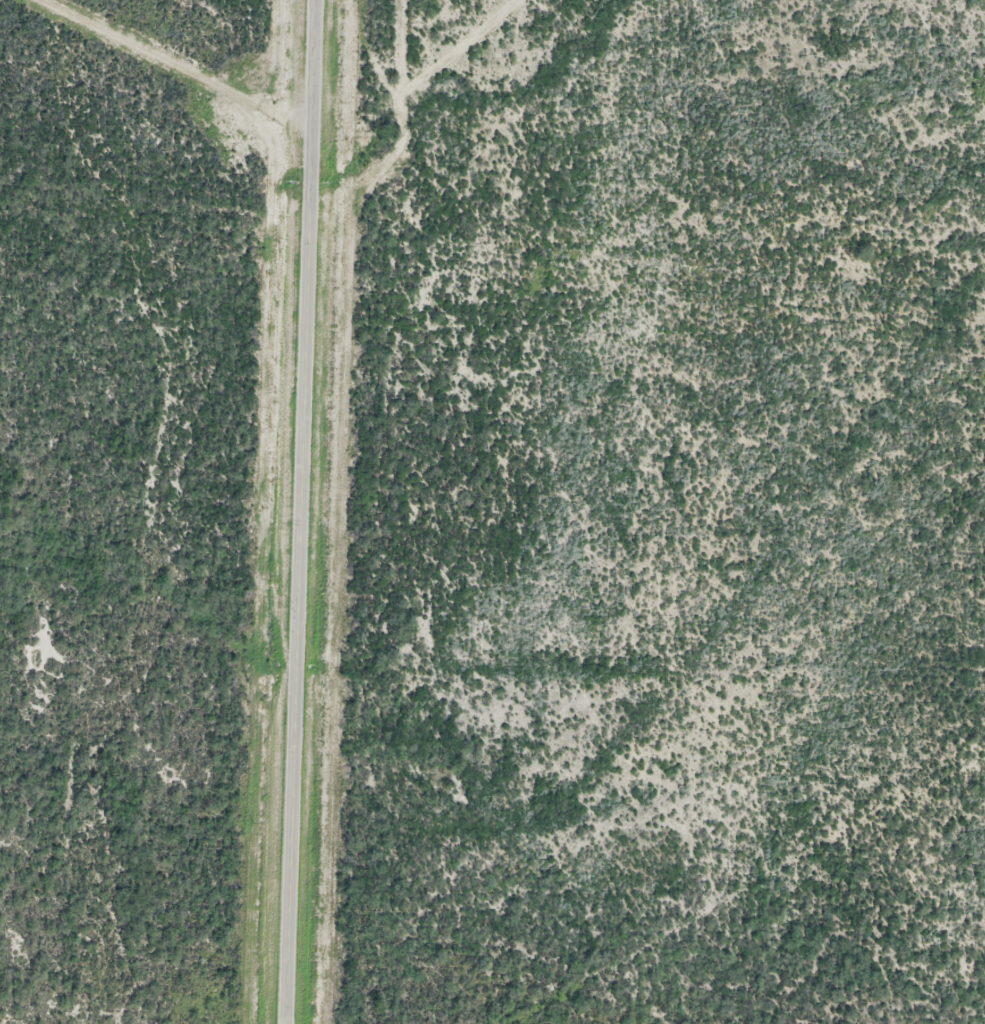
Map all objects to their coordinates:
road: (165, 65)
road: (296, 511)

